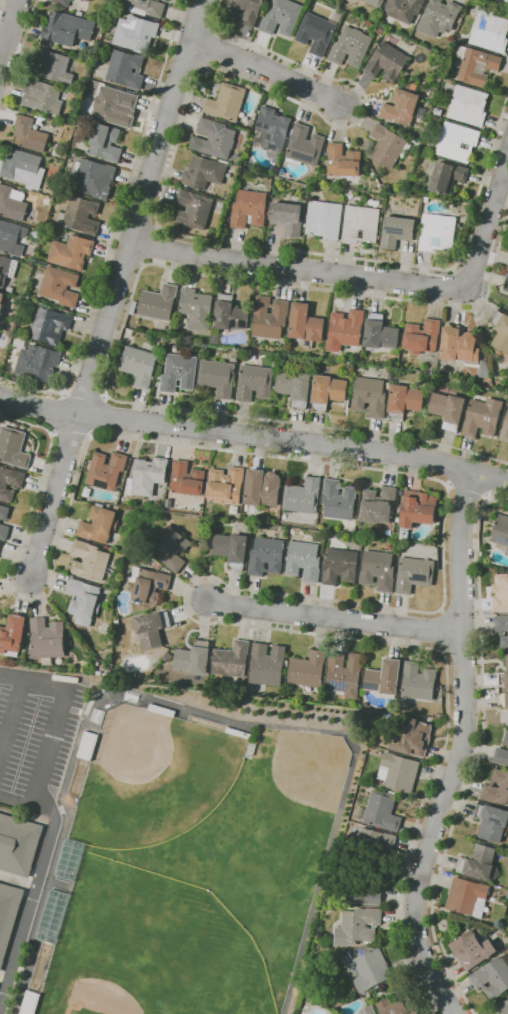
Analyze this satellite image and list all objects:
building: (87, 0)
building: (62, 2)
building: (375, 2)
road: (497, 4)
building: (147, 7)
building: (404, 9)
building: (246, 10)
building: (373, 12)
building: (80, 13)
building: (282, 17)
building: (439, 17)
building: (460, 20)
road: (8, 26)
building: (67, 28)
building: (380, 30)
building: (489, 30)
building: (318, 31)
building: (136, 32)
building: (350, 47)
road: (17, 57)
building: (387, 62)
building: (477, 64)
building: (55, 66)
building: (126, 69)
road: (266, 70)
building: (42, 96)
building: (226, 102)
building: (468, 105)
building: (115, 106)
building: (401, 107)
building: (272, 131)
building: (29, 134)
building: (214, 139)
building: (457, 141)
building: (105, 142)
building: (305, 145)
building: (386, 145)
building: (238, 158)
building: (344, 161)
building: (23, 168)
building: (204, 172)
building: (447, 176)
building: (93, 178)
road: (163, 187)
building: (426, 199)
building: (12, 203)
building: (194, 208)
building: (249, 208)
building: (81, 214)
building: (288, 217)
building: (324, 219)
building: (361, 224)
road: (115, 228)
building: (397, 231)
building: (437, 232)
building: (39, 235)
building: (11, 237)
road: (150, 244)
building: (71, 252)
building: (7, 269)
building: (507, 269)
road: (360, 276)
building: (506, 283)
building: (60, 286)
road: (115, 286)
building: (1, 301)
building: (158, 302)
building: (133, 307)
building: (507, 307)
building: (197, 308)
building: (230, 314)
road: (126, 317)
building: (270, 317)
building: (306, 323)
building: (49, 325)
building: (15, 327)
building: (346, 327)
building: (501, 331)
building: (381, 332)
building: (214, 336)
building: (422, 336)
building: (458, 344)
building: (38, 362)
building: (139, 365)
building: (484, 370)
building: (179, 372)
building: (218, 377)
building: (254, 382)
building: (388, 385)
building: (295, 387)
building: (328, 391)
road: (85, 392)
building: (370, 396)
building: (405, 400)
building: (448, 409)
road: (56, 412)
road: (101, 415)
building: (483, 417)
building: (504, 431)
road: (70, 434)
road: (252, 438)
building: (13, 447)
building: (106, 470)
building: (147, 476)
building: (187, 479)
building: (10, 482)
building: (226, 485)
building: (263, 488)
road: (466, 491)
building: (303, 496)
building: (339, 499)
building: (378, 505)
building: (417, 510)
building: (4, 512)
building: (397, 519)
building: (99, 524)
building: (500, 530)
building: (4, 532)
building: (171, 549)
building: (232, 549)
building: (507, 552)
building: (266, 556)
building: (89, 560)
building: (304, 560)
building: (157, 565)
building: (340, 566)
building: (378, 570)
building: (414, 574)
building: (148, 585)
building: (501, 593)
building: (84, 601)
road: (431, 612)
road: (335, 617)
building: (152, 629)
building: (502, 629)
building: (12, 635)
building: (47, 638)
building: (168, 657)
building: (194, 658)
building: (231, 659)
building: (267, 664)
building: (308, 669)
building: (344, 674)
building: (504, 676)
building: (384, 677)
building: (418, 681)
building: (504, 700)
building: (364, 704)
road: (201, 712)
road: (12, 718)
road: (58, 718)
parking lot: (37, 735)
building: (412, 737)
building: (506, 738)
building: (85, 745)
road: (460, 747)
road: (477, 751)
building: (501, 756)
building: (399, 772)
park: (151, 775)
building: (497, 788)
road: (26, 803)
building: (381, 811)
building: (492, 822)
park: (262, 842)
building: (18, 844)
building: (373, 846)
building: (479, 862)
building: (361, 887)
building: (468, 897)
road: (30, 906)
building: (8, 915)
building: (357, 926)
building: (326, 940)
building: (472, 949)
park: (146, 950)
building: (372, 970)
building: (492, 977)
building: (394, 1005)
building: (502, 1007)
building: (368, 1010)

